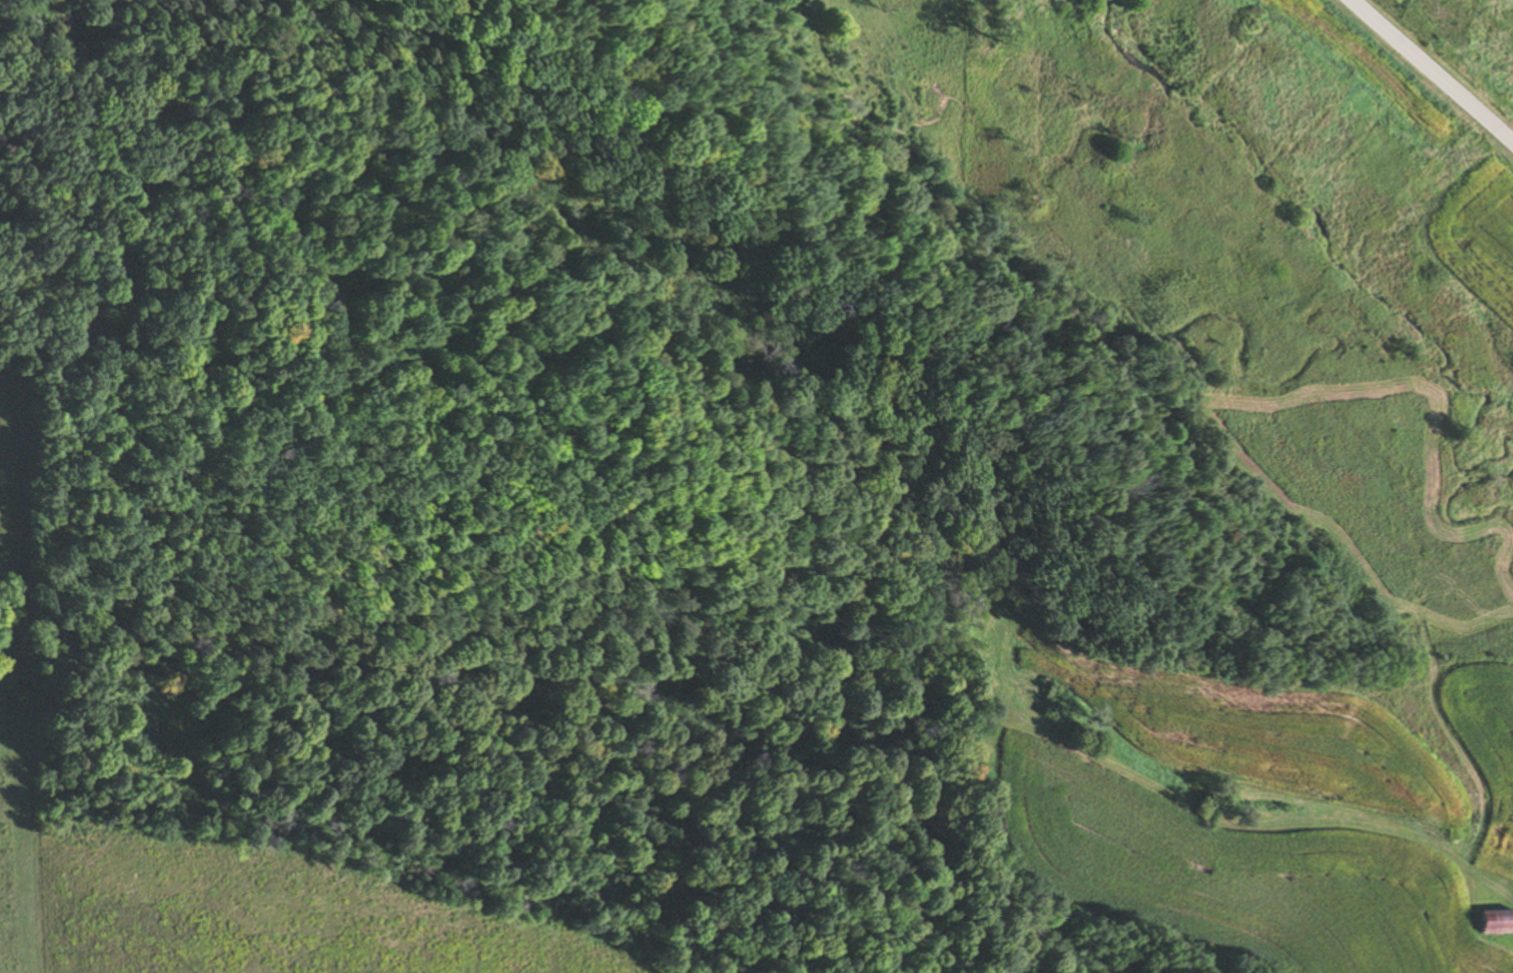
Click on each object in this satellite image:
crop: (926, 5)
road: (1433, 68)
crop: (271, 919)
building: (1494, 921)

